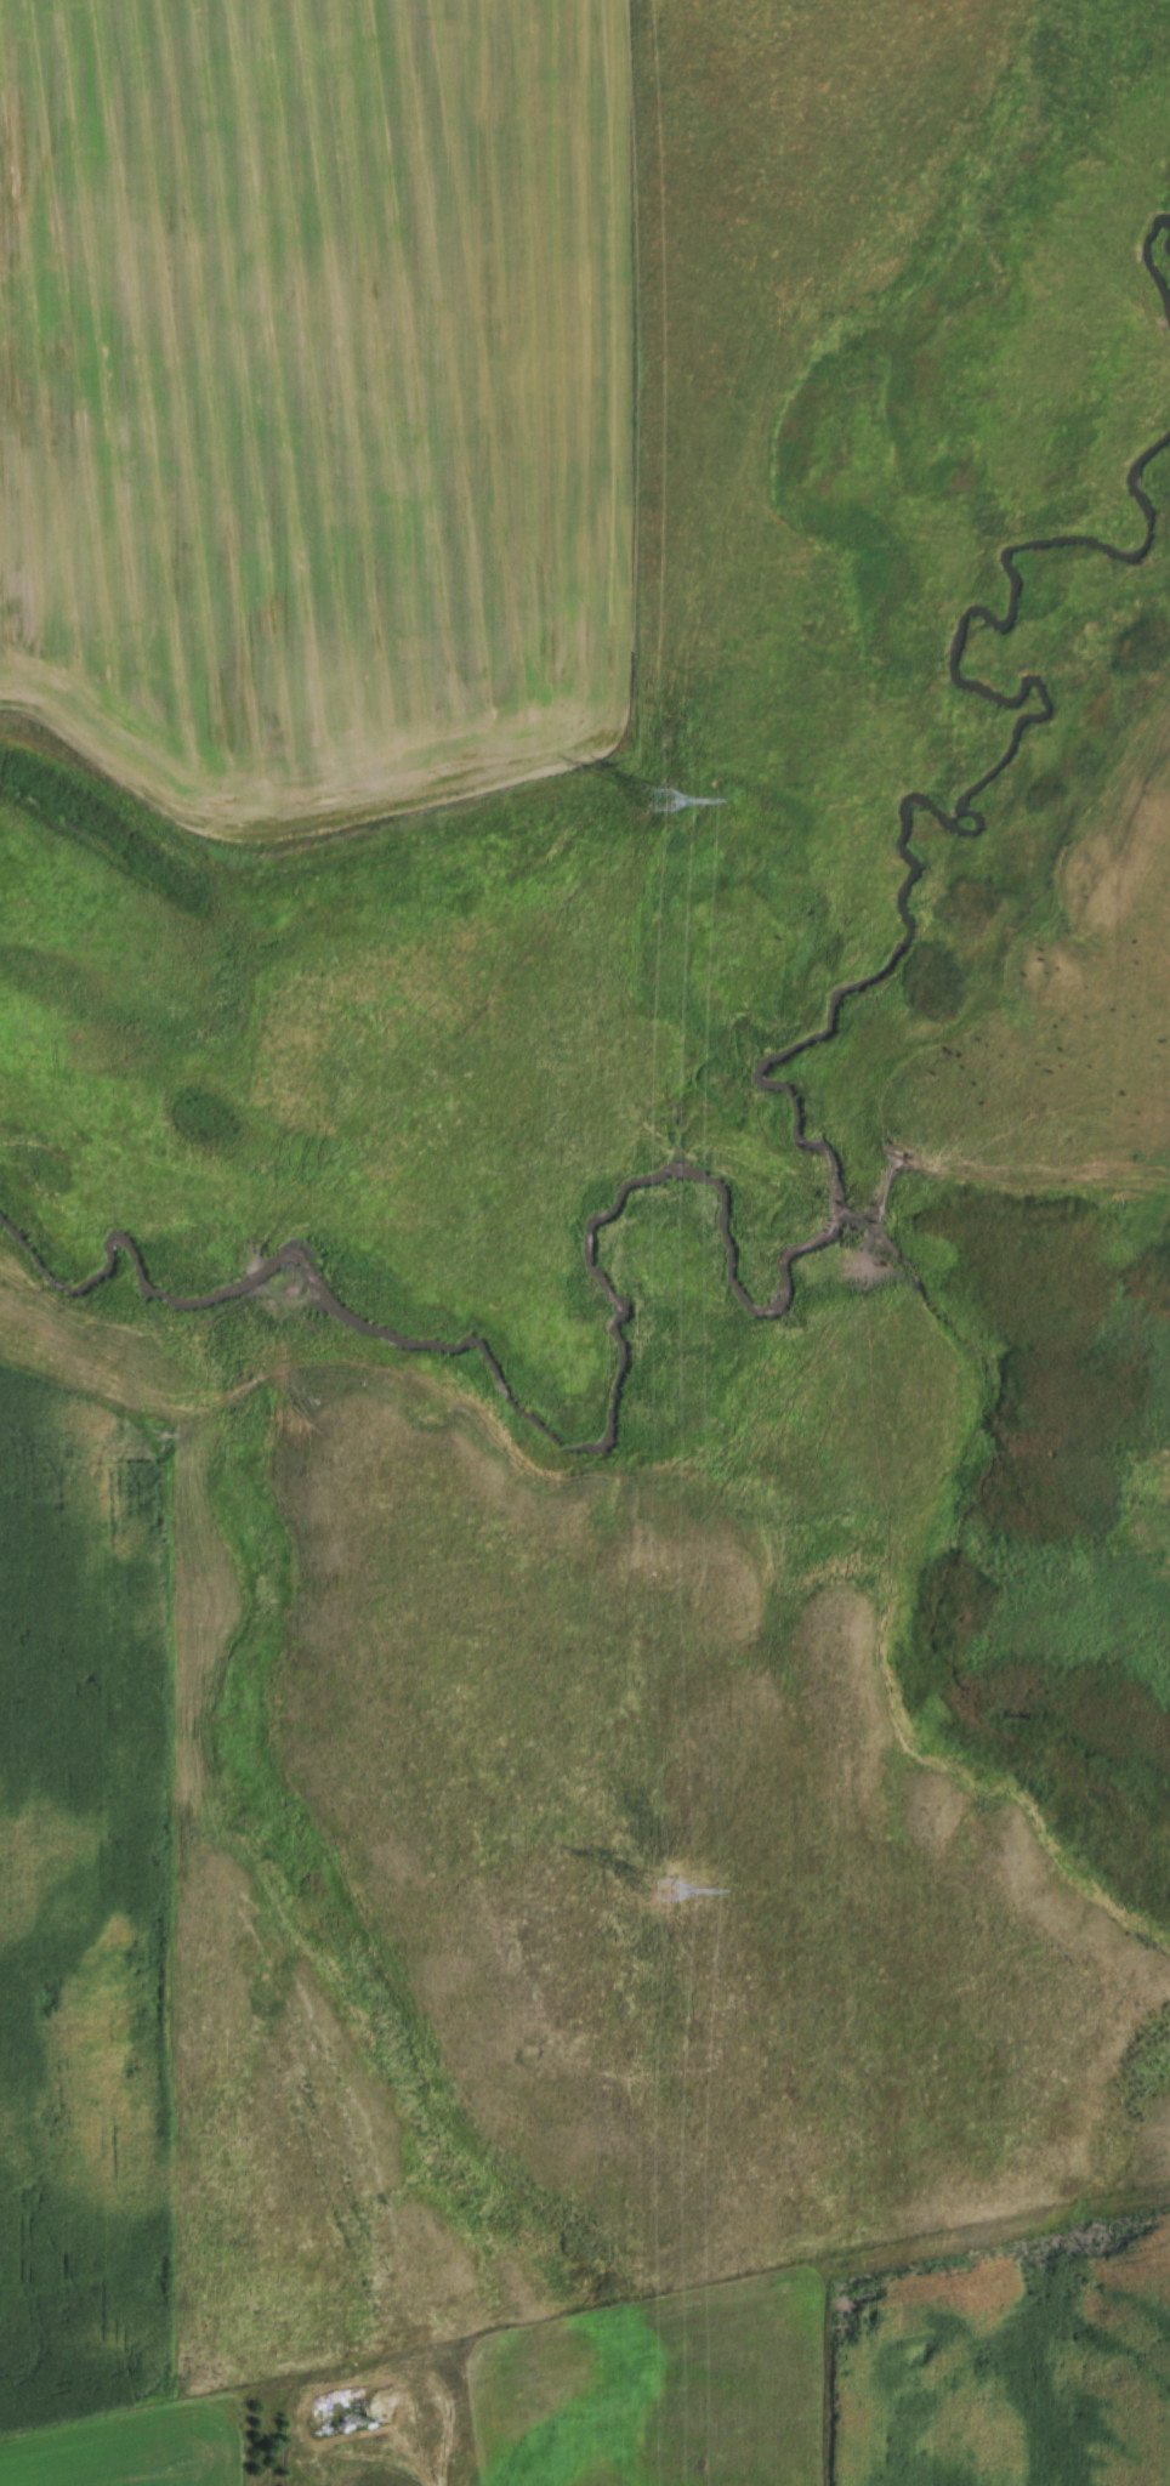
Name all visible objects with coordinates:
power tower: (654, 804)
power tower: (660, 1891)

